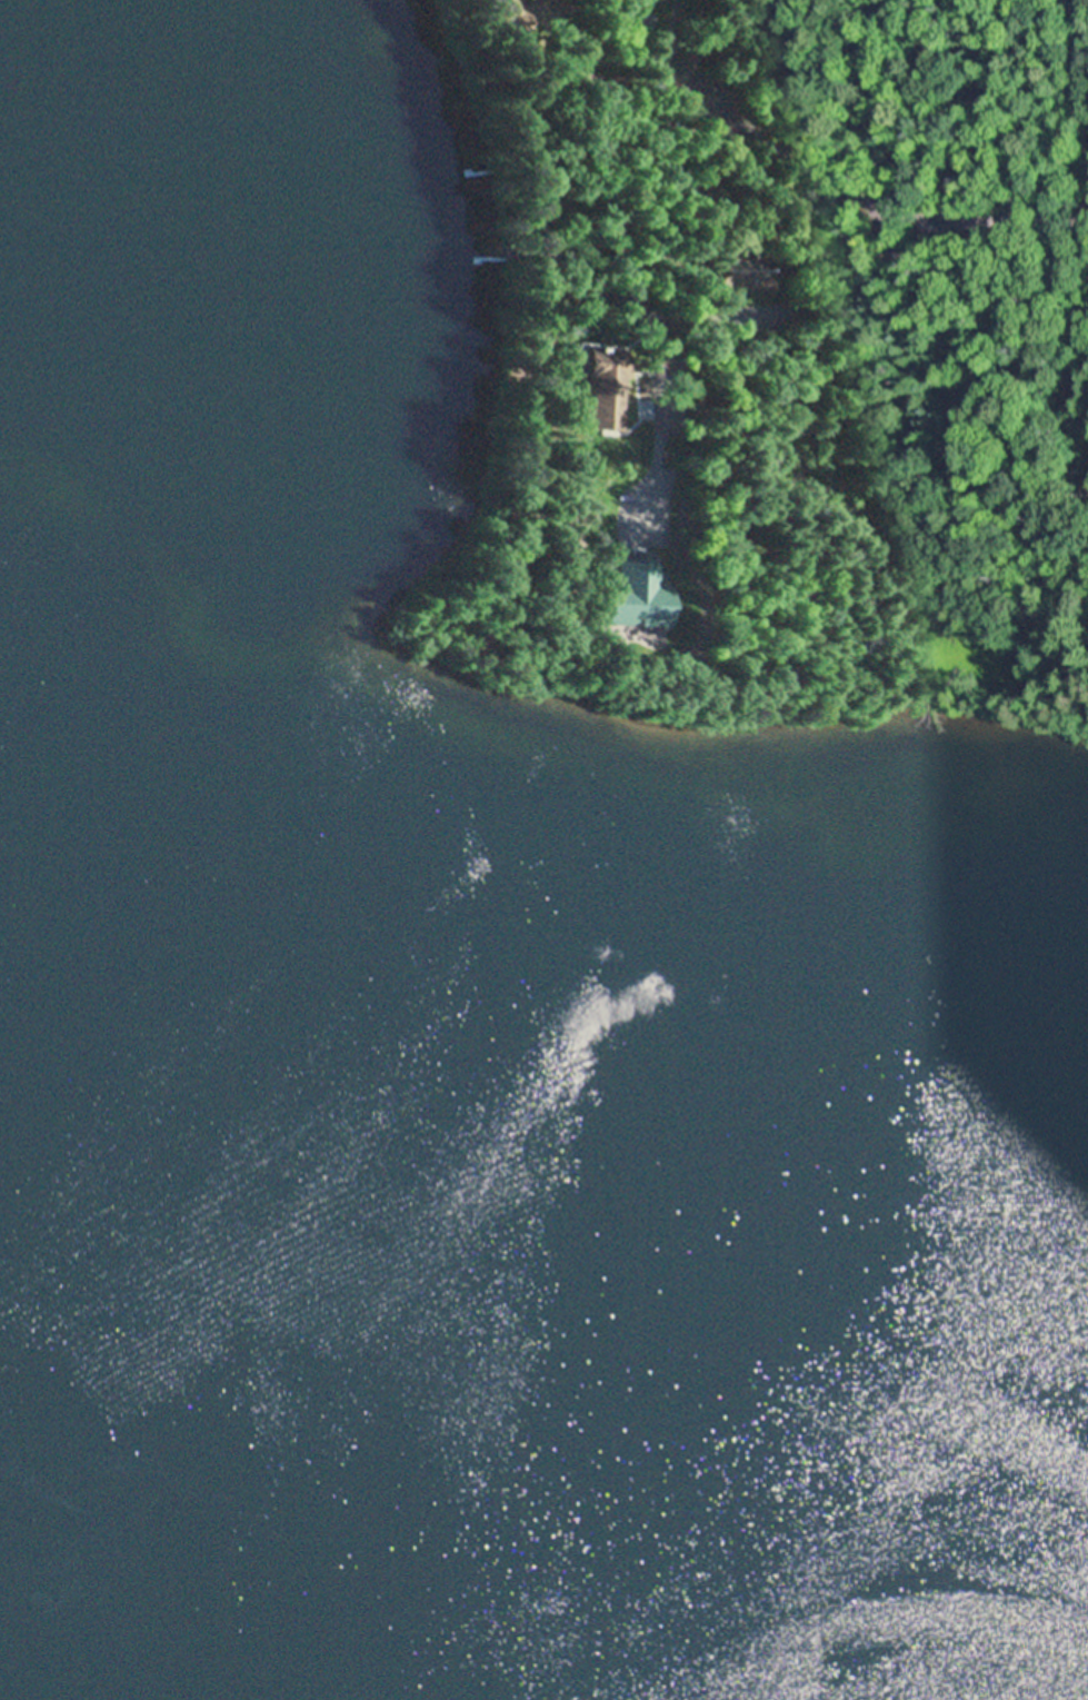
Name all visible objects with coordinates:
building: (533, 11)
building: (506, 14)
building: (581, 52)
building: (681, 70)
building: (588, 82)
road: (868, 196)
building: (748, 276)
building: (611, 385)
building: (595, 606)
river: (545, 1489)

